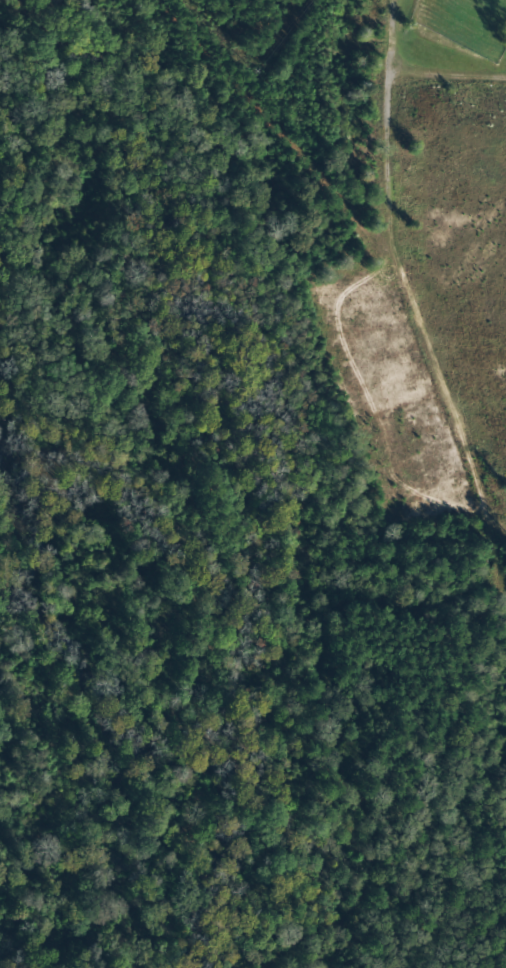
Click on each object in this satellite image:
road: (388, 304)

